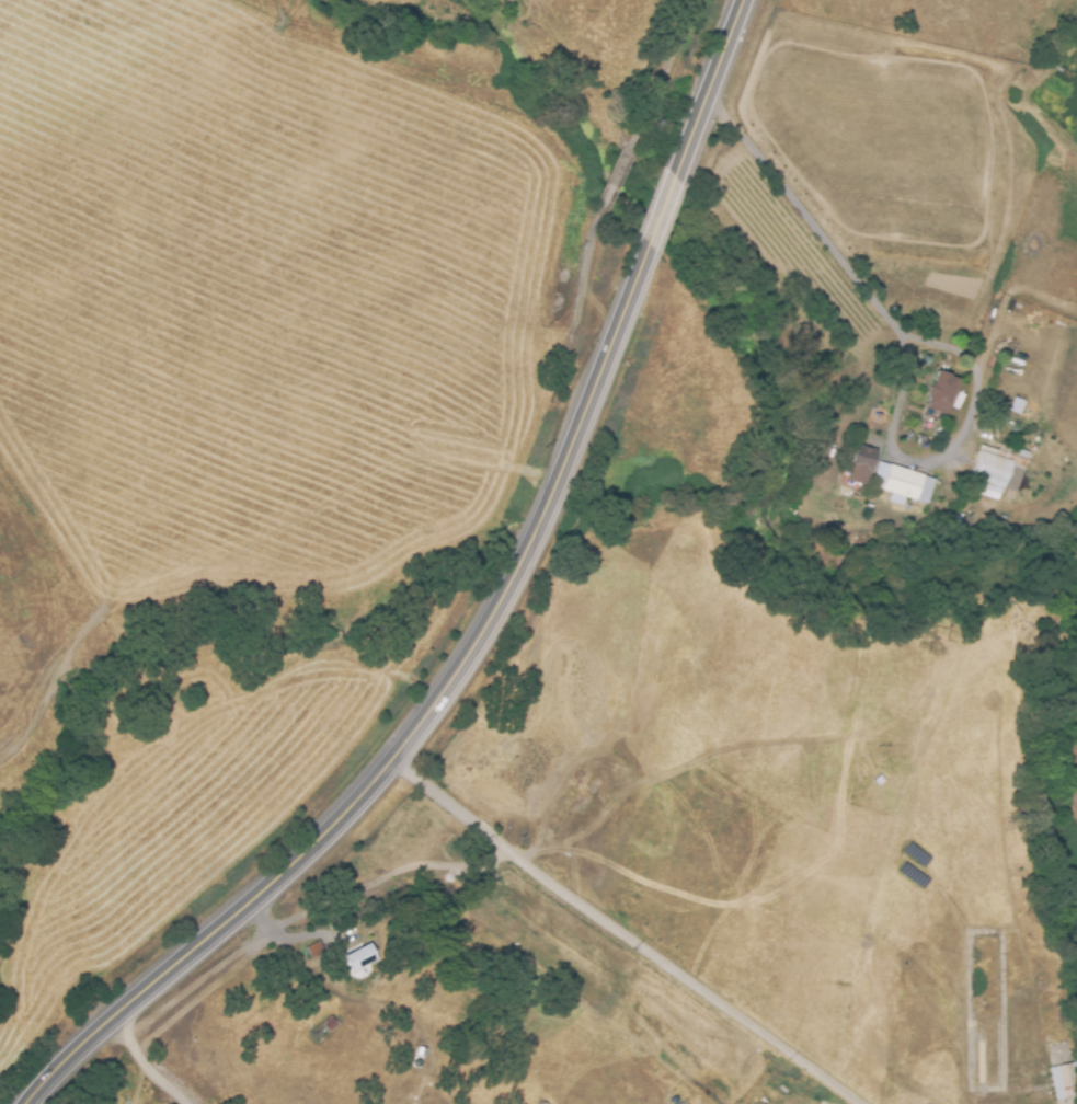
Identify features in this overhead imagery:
road: (710, 88)
road: (667, 209)
road: (910, 354)
building: (939, 392)
building: (1019, 409)
building: (861, 457)
building: (997, 472)
building: (906, 483)
road: (412, 727)
road: (288, 934)
road: (628, 938)
building: (362, 957)

